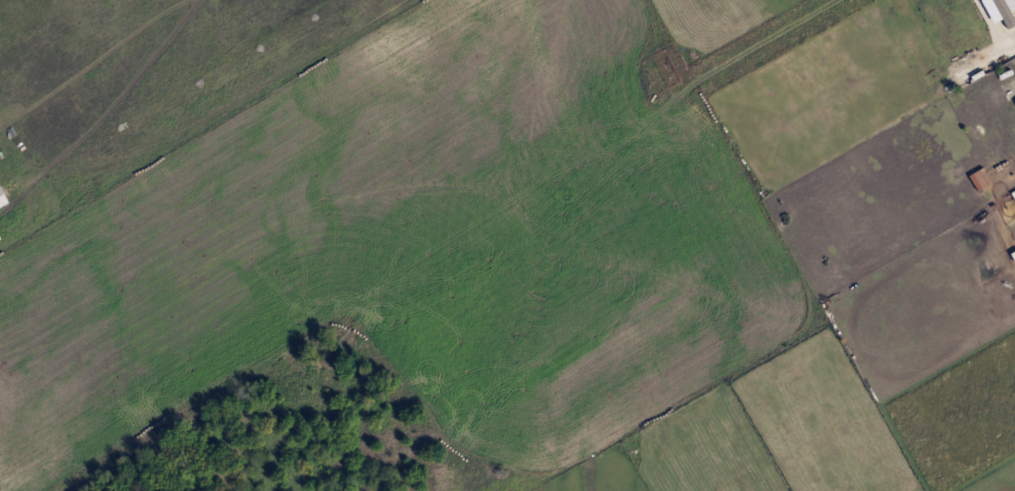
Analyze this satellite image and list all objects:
building: (997, 9)
building: (1014, 101)
building: (977, 178)
building: (1, 200)

